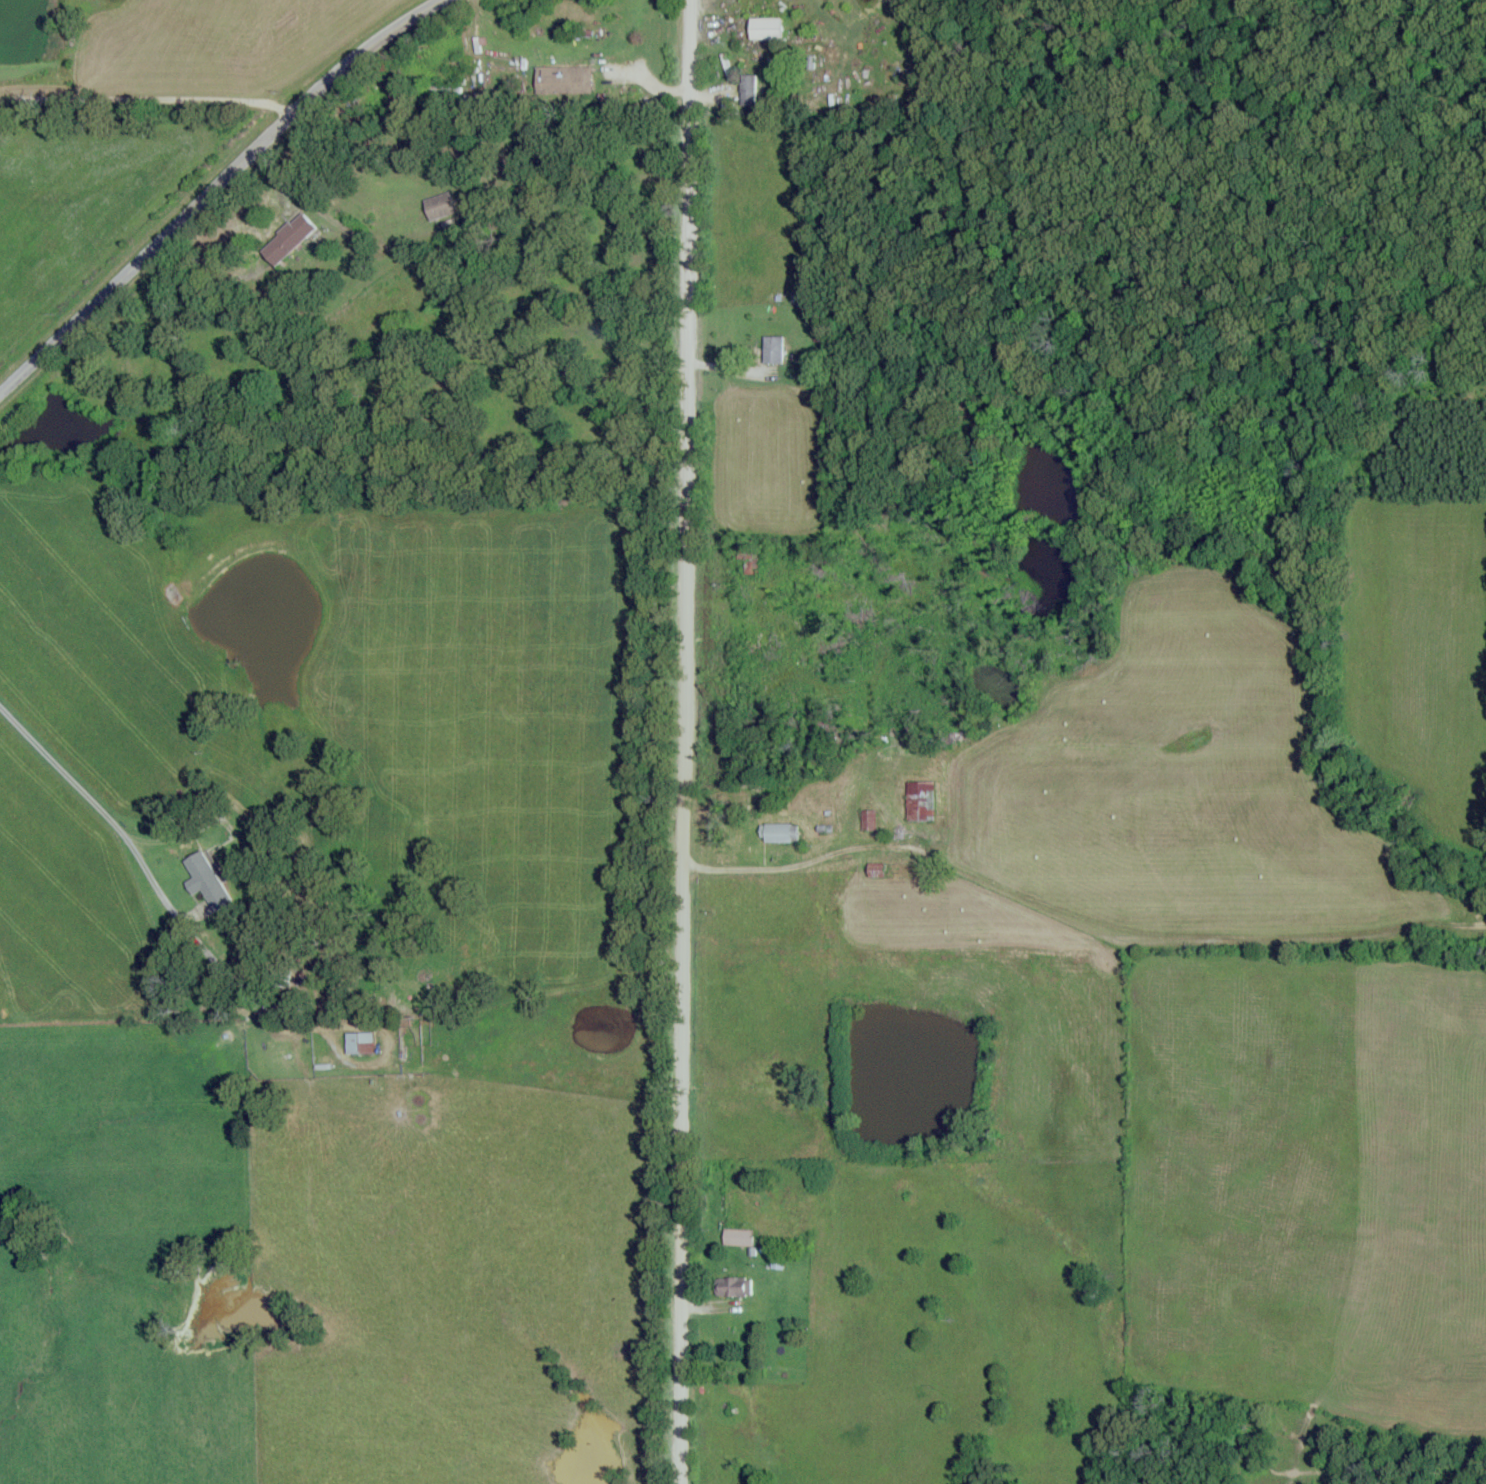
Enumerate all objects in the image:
building: (763, 29)
building: (544, 81)
building: (441, 88)
building: (745, 91)
road: (146, 101)
road: (211, 187)
building: (286, 239)
building: (770, 350)
road: (691, 742)
building: (920, 801)
building: (777, 833)
building: (204, 881)
road: (163, 904)
building: (422, 1032)
building: (357, 1043)
building: (736, 1237)
building: (730, 1286)

